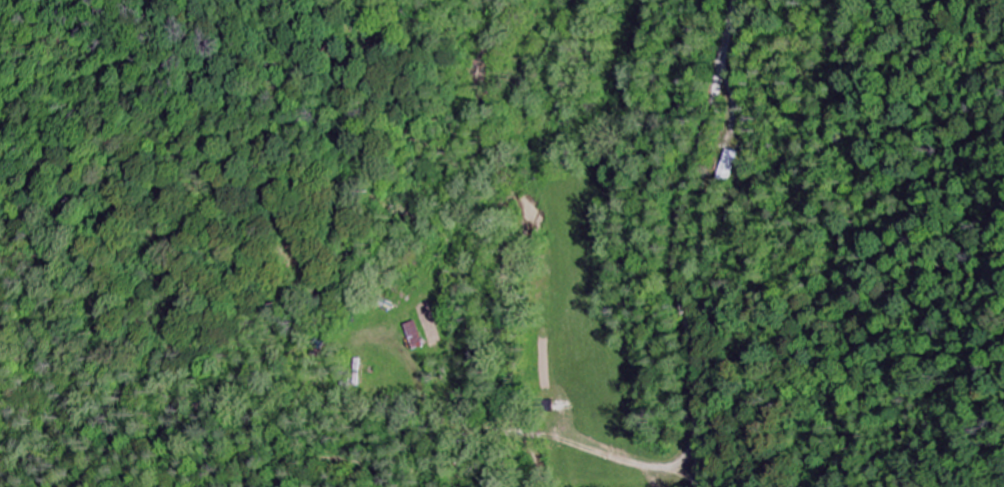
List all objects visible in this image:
road: (677, 241)
road: (492, 440)

